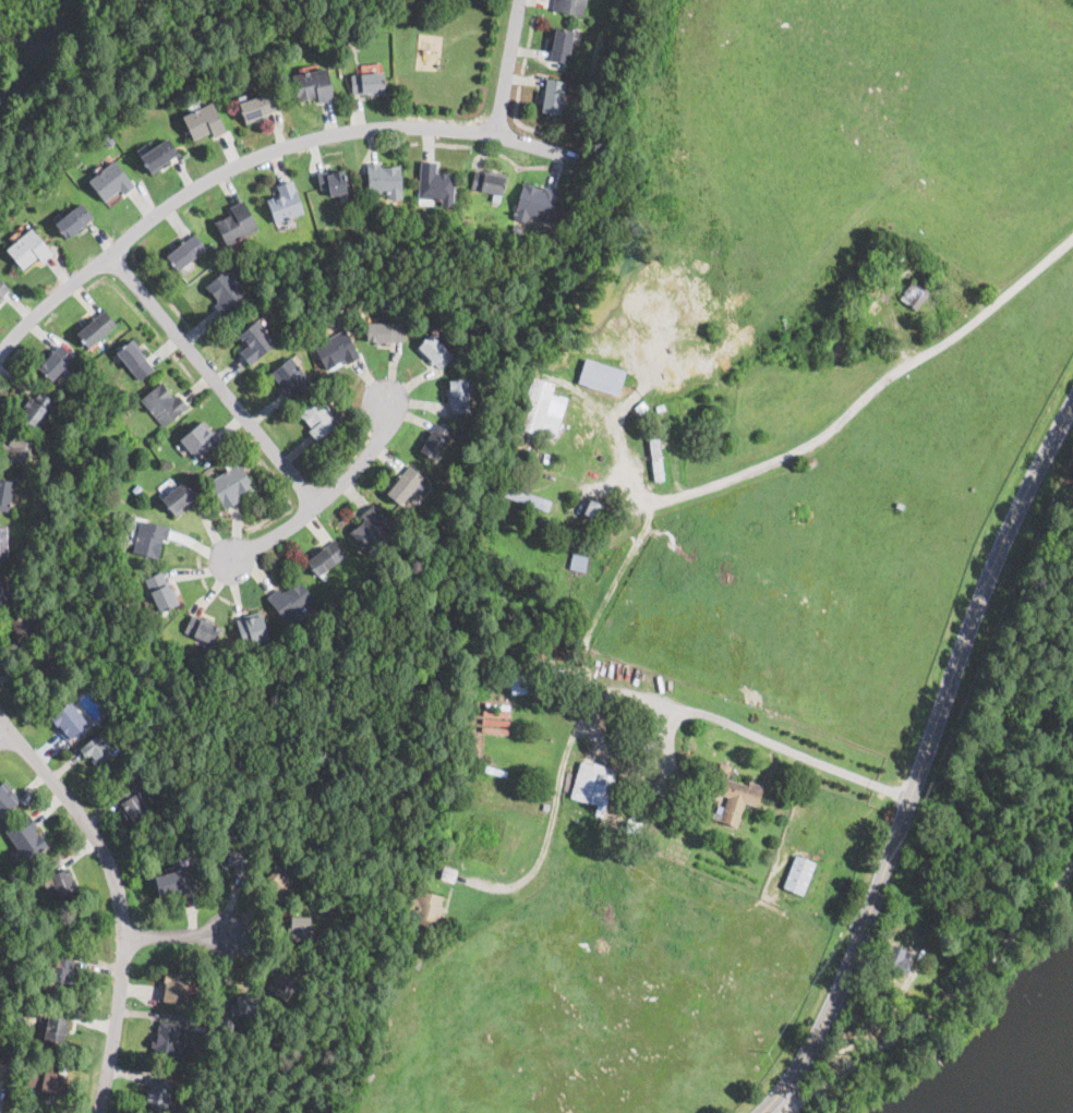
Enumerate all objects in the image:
building: (570, 7)
building: (443, 14)
building: (341, 43)
building: (560, 46)
road: (506, 65)
building: (367, 85)
building: (313, 86)
building: (552, 96)
building: (256, 108)
building: (203, 121)
building: (108, 141)
road: (254, 155)
building: (159, 156)
building: (384, 179)
building: (489, 181)
building: (111, 182)
building: (333, 182)
building: (436, 184)
building: (286, 203)
building: (534, 204)
building: (73, 222)
building: (238, 222)
building: (536, 225)
building: (517, 228)
building: (867, 242)
building: (28, 249)
building: (185, 251)
building: (899, 253)
building: (854, 282)
building: (865, 287)
building: (2, 290)
building: (908, 291)
building: (226, 293)
building: (95, 329)
building: (384, 334)
building: (255, 341)
building: (336, 350)
building: (434, 351)
building: (134, 359)
building: (56, 362)
road: (213, 375)
building: (601, 377)
building: (290, 378)
building: (85, 386)
building: (458, 397)
building: (651, 399)
building: (164, 403)
building: (543, 404)
building: (641, 408)
building: (38, 409)
building: (318, 418)
road: (840, 420)
building: (198, 439)
building: (436, 440)
building: (515, 441)
building: (14, 448)
building: (655, 456)
building: (668, 459)
building: (231, 485)
building: (405, 485)
building: (137, 489)
road: (326, 493)
building: (5, 494)
building: (180, 497)
building: (528, 499)
building: (900, 506)
building: (592, 510)
building: (801, 511)
building: (542, 521)
building: (589, 525)
building: (38, 528)
building: (372, 530)
building: (150, 539)
building: (3, 541)
building: (326, 558)
building: (579, 561)
building: (3, 591)
building: (161, 592)
building: (291, 601)
building: (22, 628)
building: (202, 629)
building: (252, 629)
building: (569, 633)
building: (50, 666)
building: (522, 683)
road: (635, 692)
building: (498, 704)
building: (497, 713)
building: (69, 719)
building: (495, 723)
building: (616, 733)
road: (5, 734)
building: (99, 747)
road: (921, 763)
building: (595, 779)
building: (138, 783)
building: (656, 789)
building: (724, 790)
building: (547, 791)
building: (668, 796)
building: (7, 798)
building: (132, 804)
building: (545, 807)
building: (631, 826)
building: (25, 838)
building: (234, 854)
building: (4, 871)
building: (798, 872)
building: (448, 874)
building: (277, 879)
building: (961, 879)
building: (62, 884)
building: (172, 884)
road: (118, 895)
building: (943, 909)
building: (424, 912)
building: (297, 929)
road: (179, 934)
building: (413, 960)
building: (897, 960)
building: (59, 971)
building: (289, 979)
building: (173, 989)
building: (249, 1004)
road: (937, 1005)
building: (52, 1028)
road: (868, 1029)
building: (203, 1039)
building: (167, 1040)
building: (3, 1067)
building: (46, 1079)
building: (157, 1091)

